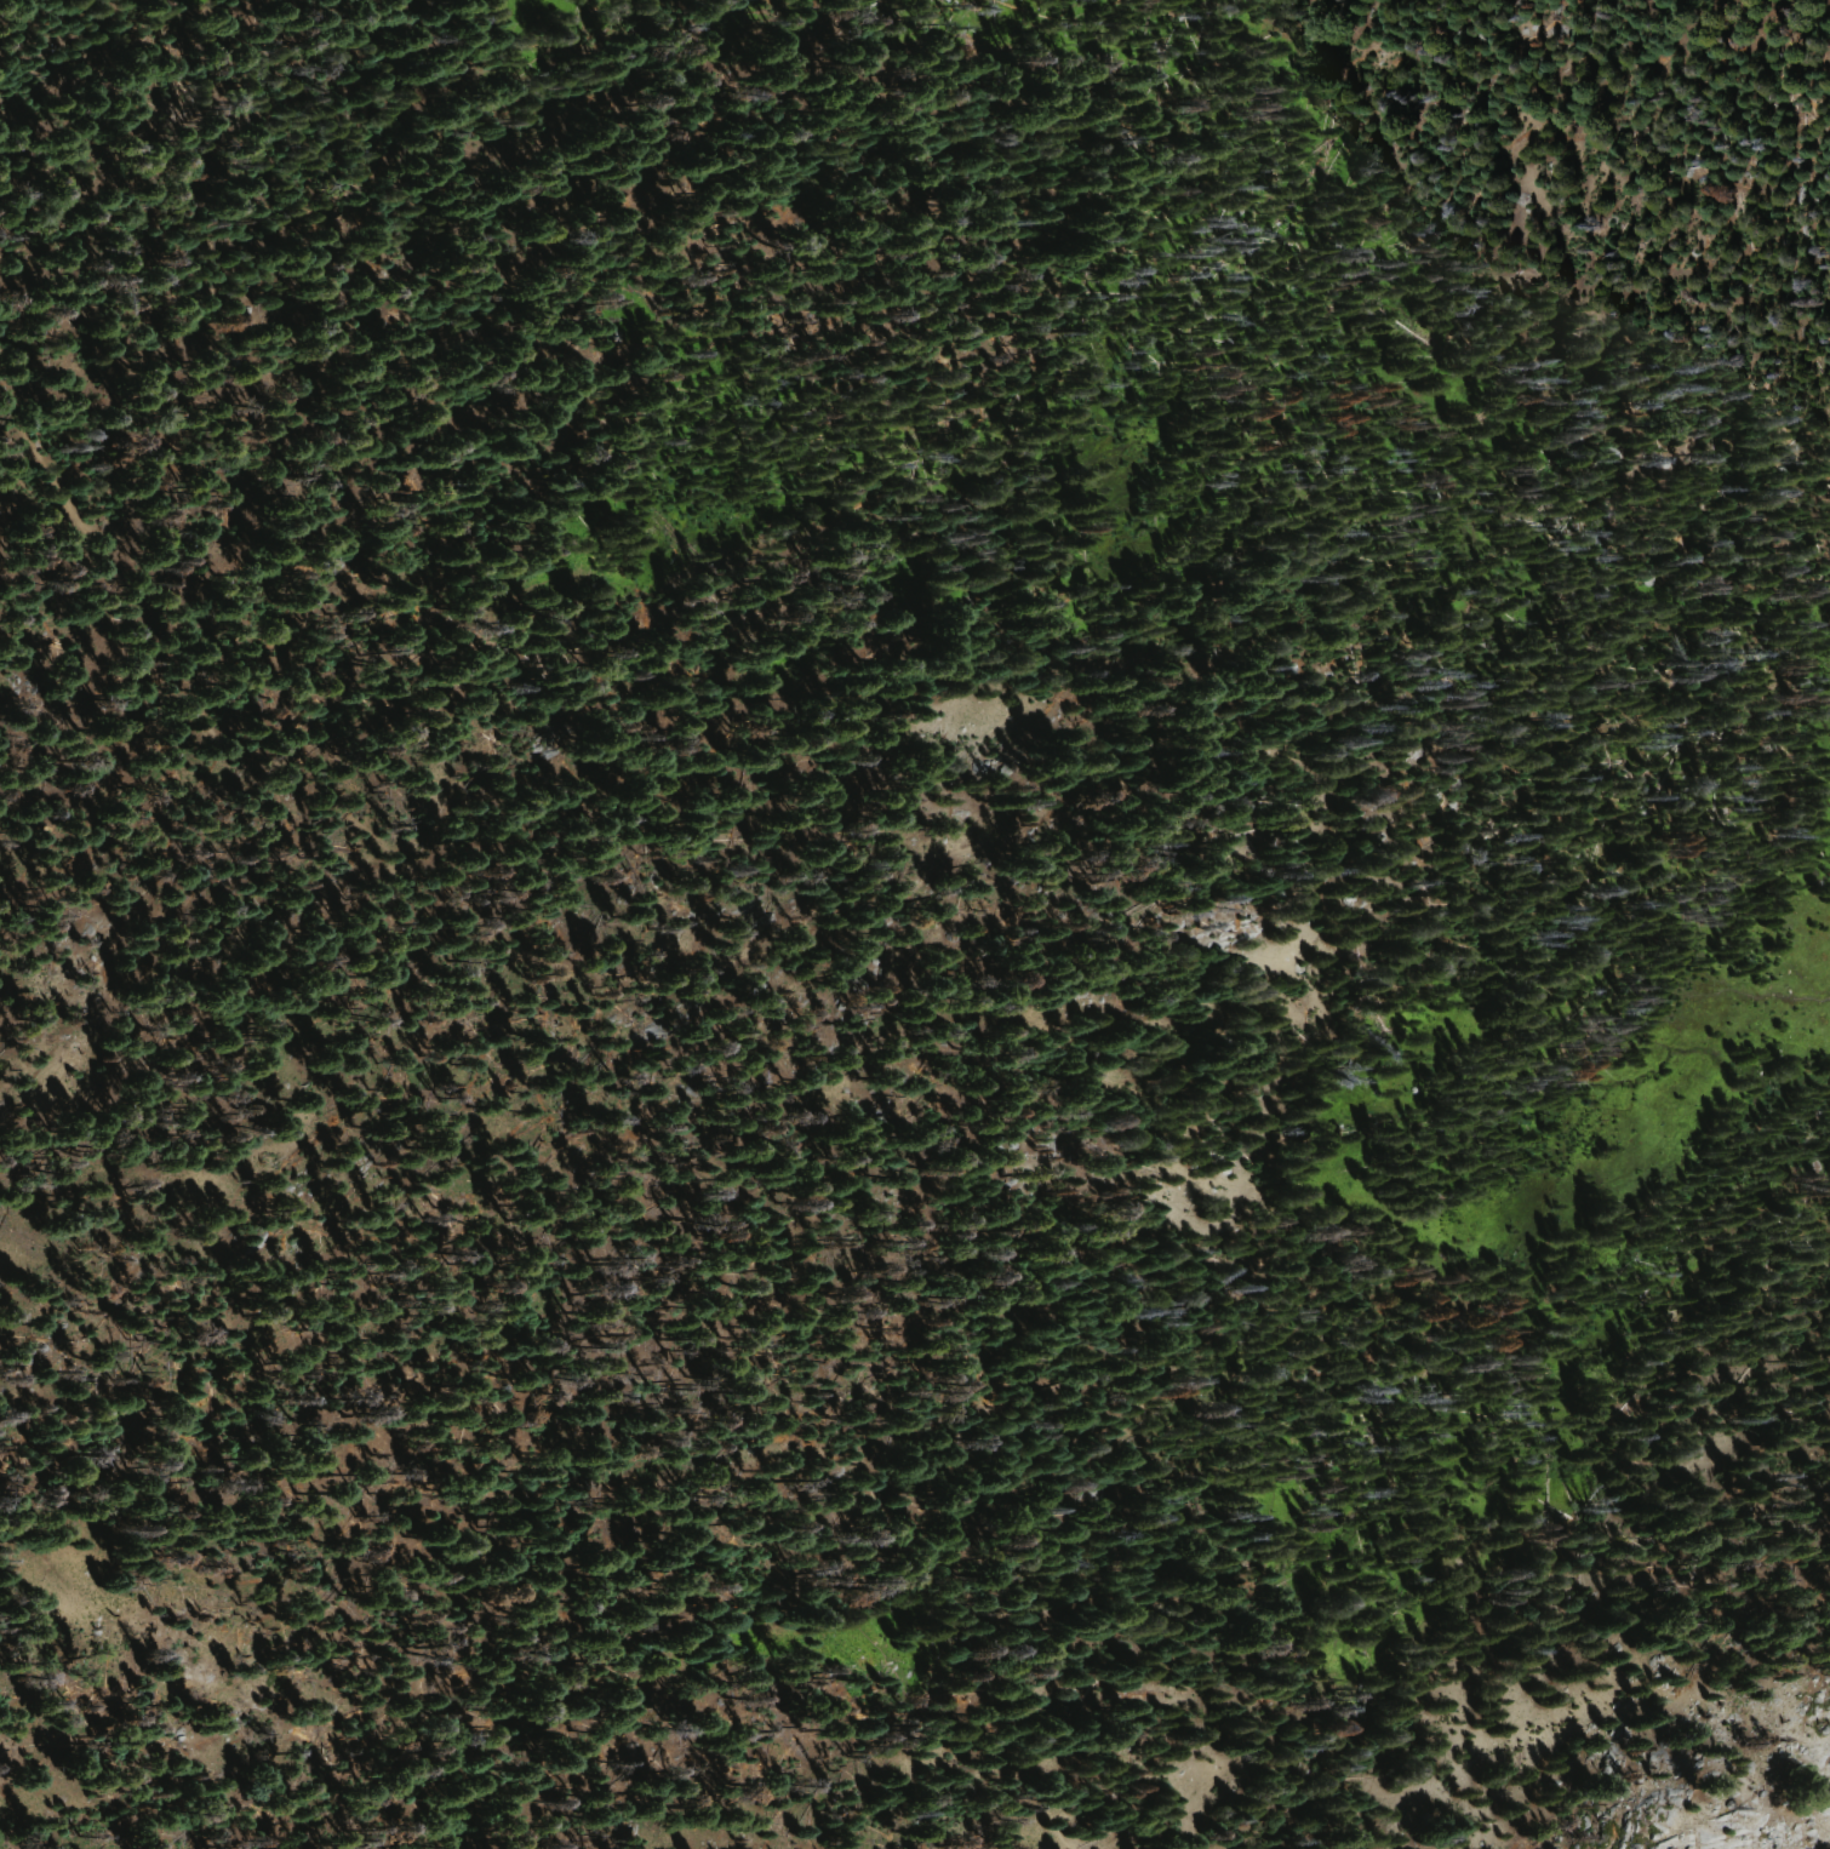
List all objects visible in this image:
road: (1226, 778)
road: (720, 998)

